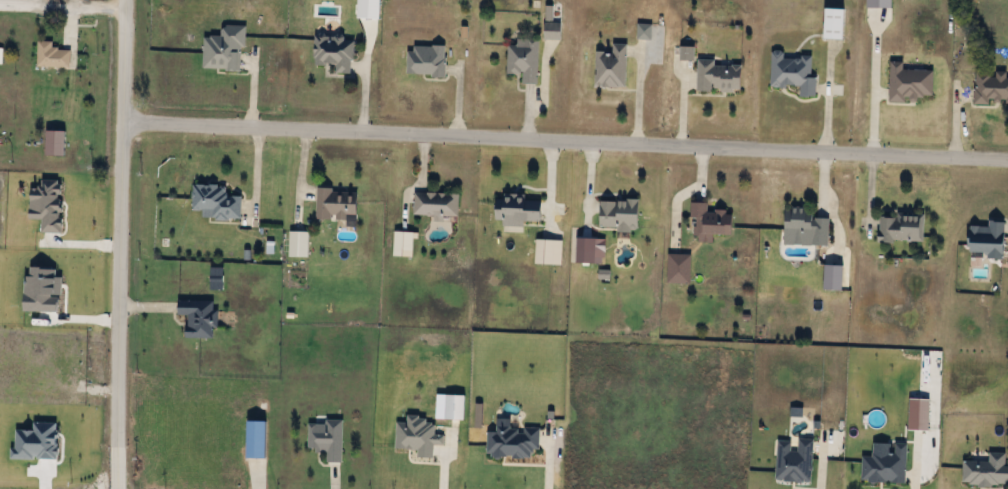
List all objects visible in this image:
road: (84, 1)
building: (835, 23)
building: (553, 30)
building: (224, 48)
building: (334, 50)
building: (0, 55)
building: (52, 55)
building: (524, 58)
building: (426, 59)
building: (612, 66)
building: (794, 71)
building: (719, 75)
building: (909, 82)
road: (874, 86)
building: (990, 87)
road: (565, 140)
building: (55, 142)
building: (20, 144)
road: (253, 174)
road: (297, 175)
road: (589, 185)
road: (687, 192)
building: (215, 201)
building: (337, 203)
building: (436, 204)
building: (519, 208)
building: (620, 213)
building: (710, 221)
building: (806, 224)
building: (901, 227)
building: (989, 238)
building: (403, 242)
road: (121, 244)
building: (548, 251)
building: (679, 267)
building: (836, 273)
building: (199, 317)
building: (257, 438)
building: (326, 438)
road: (442, 457)
road: (546, 468)
road: (818, 469)

